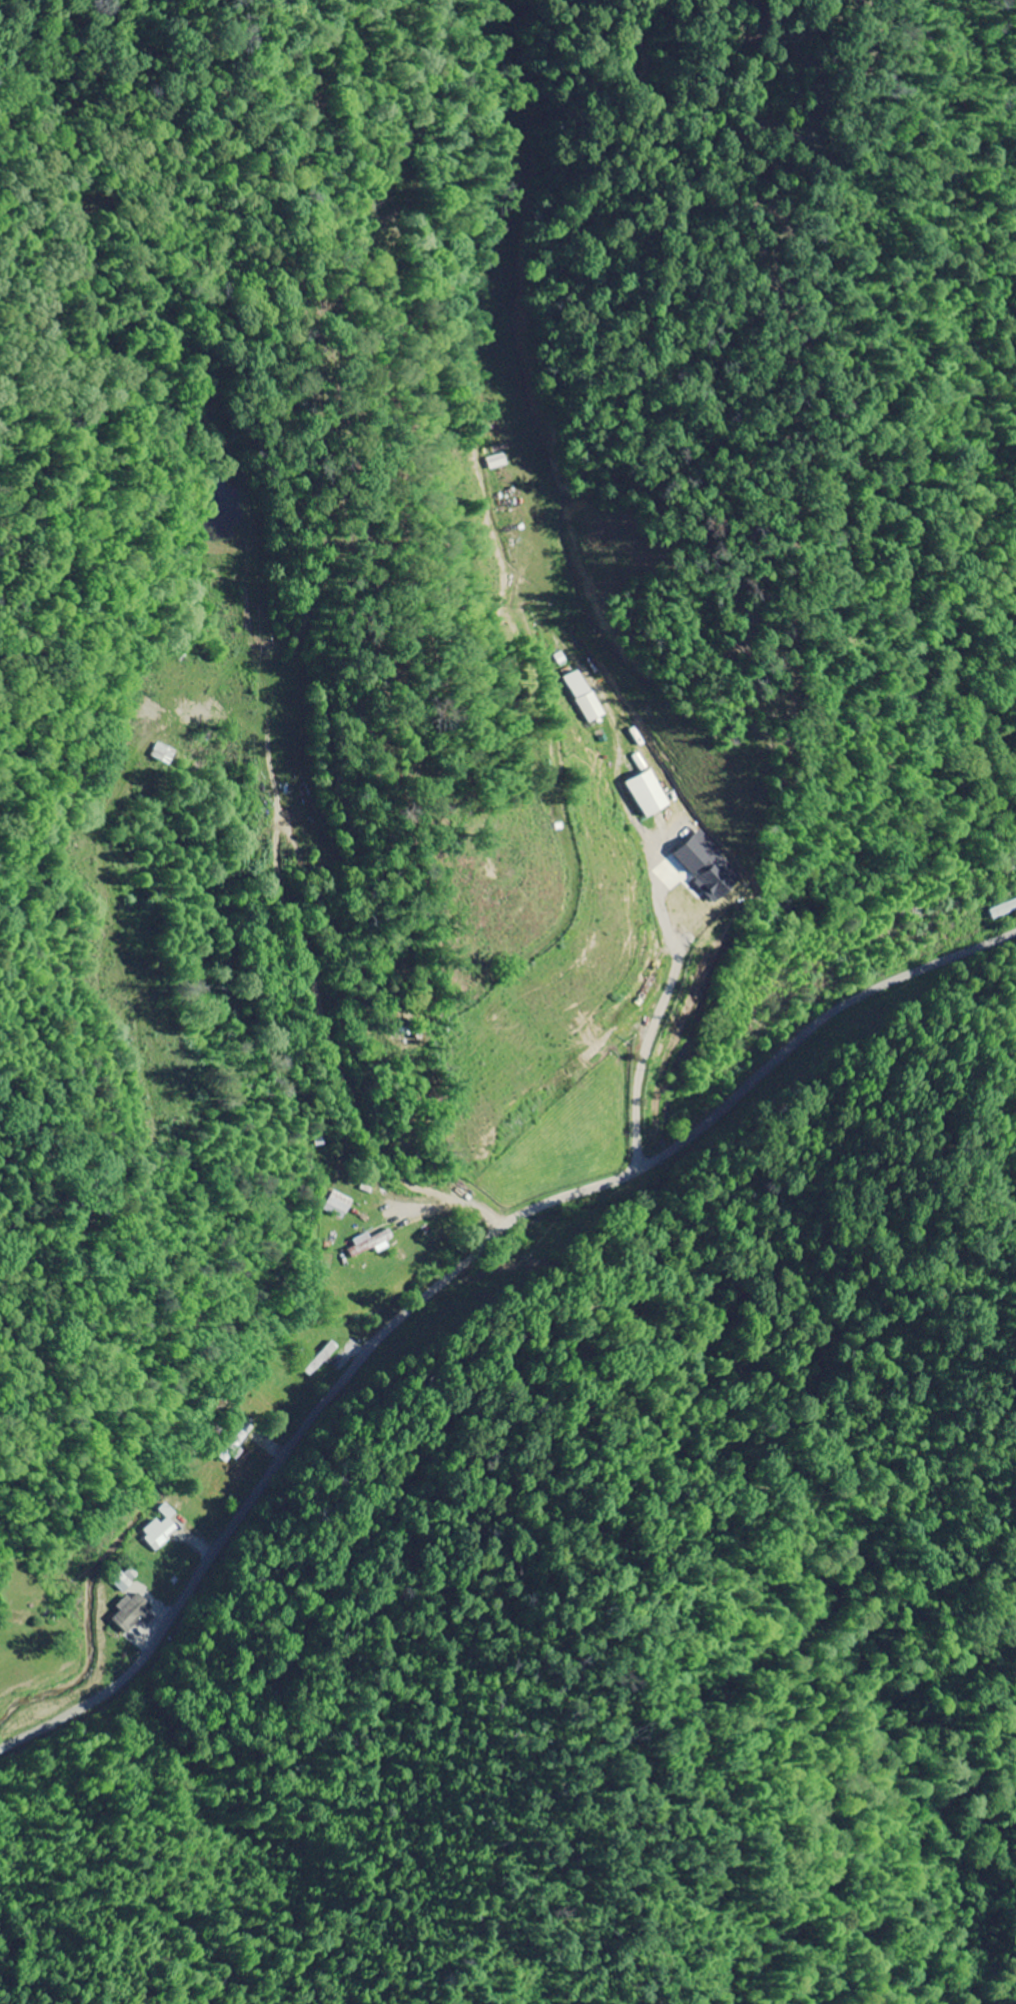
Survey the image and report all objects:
building: (587, 696)
building: (651, 794)
building: (719, 881)
building: (1002, 910)
road: (382, 1075)
building: (339, 1205)
building: (371, 1244)
road: (452, 1274)
building: (162, 1529)
building: (133, 1614)

